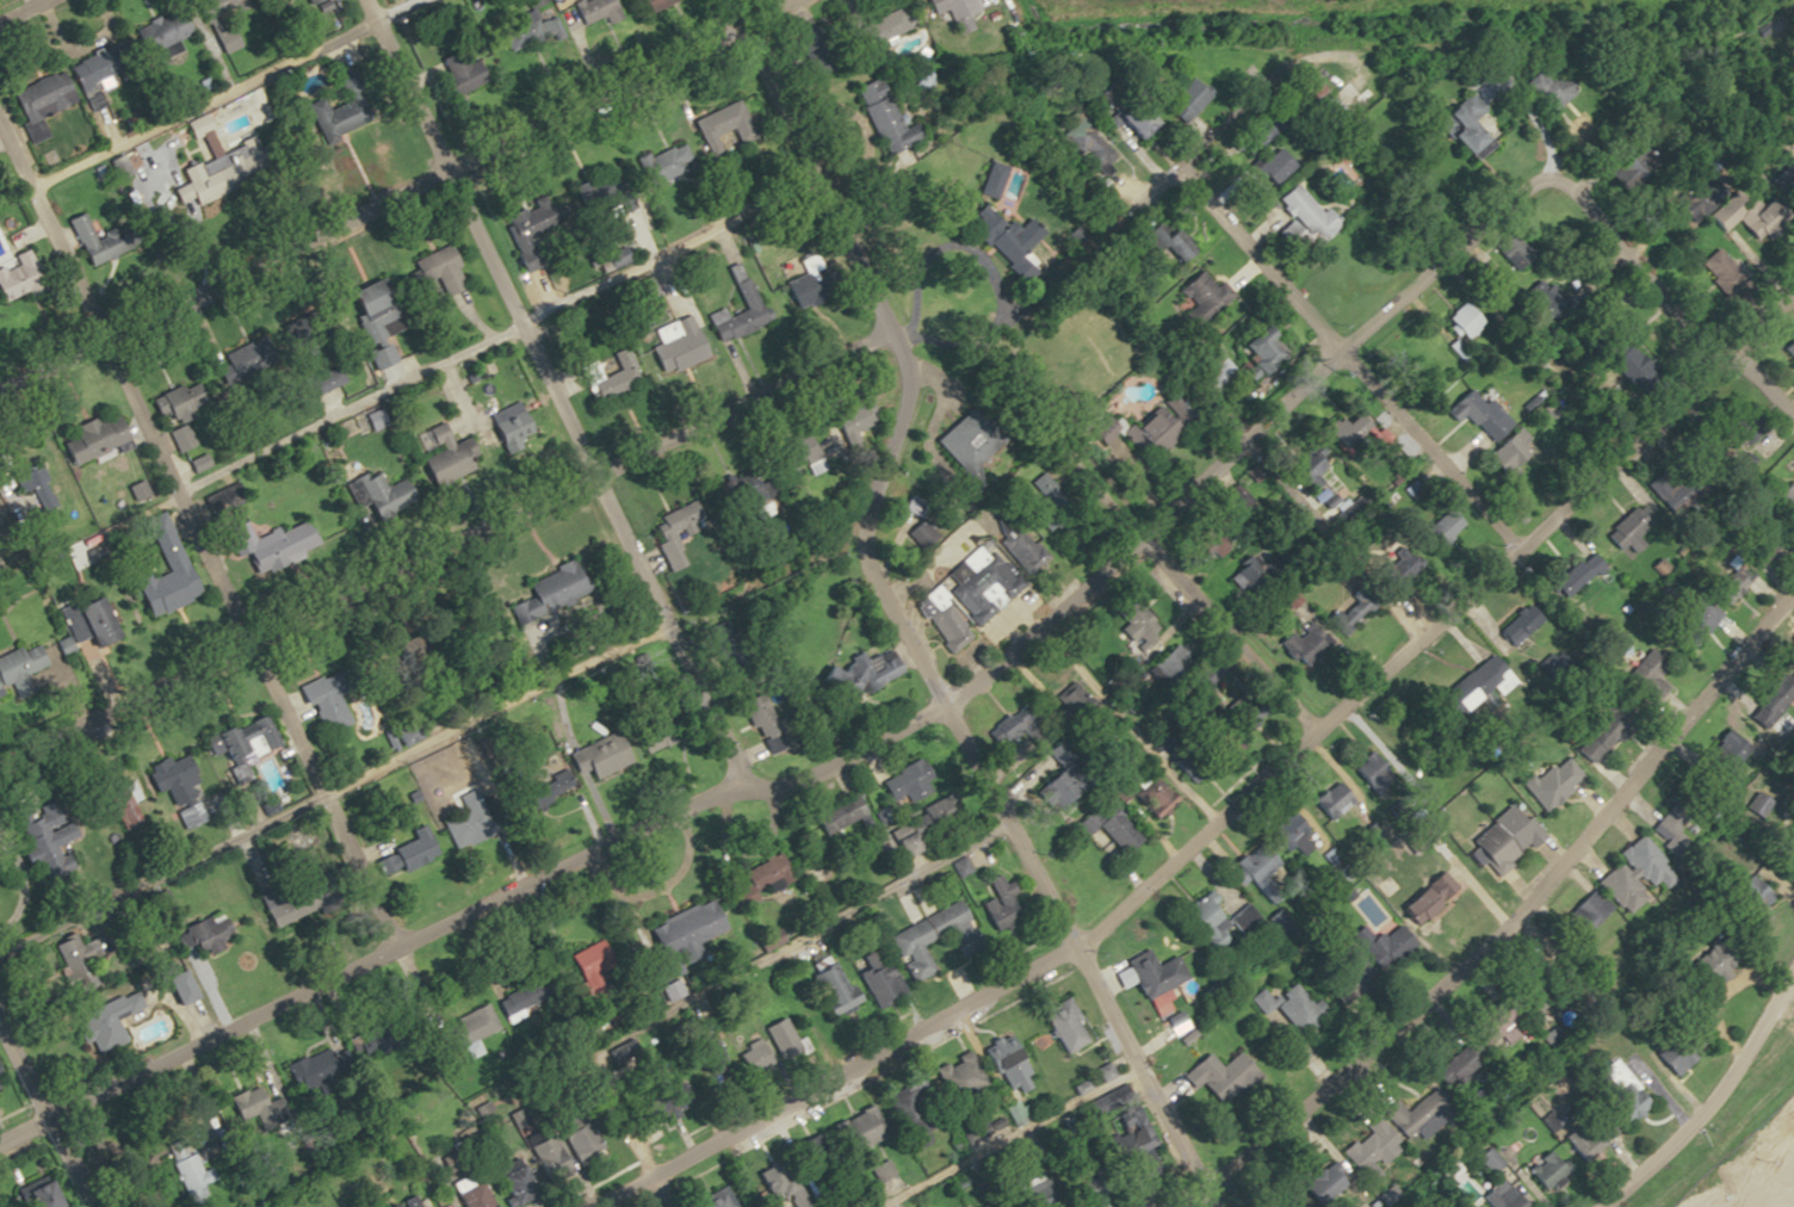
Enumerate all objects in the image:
building: (303, 0)
building: (651, 4)
building: (939, 4)
road: (19, 8)
building: (592, 10)
building: (208, 26)
building: (879, 27)
building: (156, 31)
building: (525, 31)
building: (87, 69)
building: (454, 72)
building: (1536, 88)
building: (1310, 91)
road: (219, 93)
building: (1180, 97)
building: (1354, 97)
building: (36, 100)
building: (879, 114)
building: (1122, 118)
building: (717, 120)
building: (196, 126)
building: (1448, 128)
building: (1249, 136)
building: (1081, 142)
building: (1268, 165)
building: (660, 166)
building: (199, 172)
road: (1145, 187)
road: (398, 190)
building: (611, 194)
building: (1300, 212)
building: (1762, 221)
building: (979, 222)
building: (79, 236)
building: (1162, 239)
building: (526, 241)
building: (1507, 252)
building: (435, 270)
building: (16, 286)
building: (800, 286)
building: (644, 290)
building: (365, 295)
building: (1200, 296)
building: (1540, 296)
building: (735, 314)
building: (1458, 322)
road: (1695, 328)
road: (493, 338)
building: (678, 342)
building: (1251, 349)
building: (1790, 352)
road: (1337, 357)
building: (607, 377)
building: (1211, 378)
building: (321, 380)
road: (550, 392)
building: (1473, 413)
building: (172, 417)
building: (508, 426)
building: (1147, 432)
building: (89, 439)
building: (799, 452)
building: (1504, 453)
building: (1295, 471)
building: (134, 490)
building: (1679, 490)
road: (1179, 491)
building: (1045, 493)
building: (1787, 496)
building: (1439, 527)
building: (1628, 532)
building: (664, 538)
road: (190, 539)
road: (443, 541)
building: (160, 543)
building: (273, 546)
building: (1016, 547)
building: (1762, 549)
building: (55, 568)
building: (1575, 576)
building: (976, 584)
building: (1728, 586)
road: (1180, 596)
building: (1344, 613)
road: (890, 618)
building: (88, 623)
building: (1696, 623)
building: (1516, 625)
building: (941, 627)
building: (1298, 644)
building: (18, 666)
building: (861, 671)
building: (1648, 675)
building: (1476, 686)
building: (1770, 699)
building: (321, 704)
building: (756, 714)
building: (1606, 729)
building: (655, 735)
building: (240, 738)
building: (1220, 742)
building: (1721, 755)
building: (598, 760)
building: (1189, 769)
building: (1366, 769)
building: (168, 780)
building: (1552, 781)
building: (905, 782)
building: (543, 788)
road: (335, 791)
building: (1050, 791)
road: (1232, 799)
building: (1329, 799)
building: (119, 807)
building: (841, 812)
building: (465, 823)
building: (41, 825)
building: (1676, 825)
building: (1112, 829)
building: (1285, 835)
building: (1505, 837)
building: (903, 843)
building: (1786, 846)
building: (412, 849)
building: (1249, 867)
building: (1632, 874)
building: (755, 880)
building: (1427, 897)
building: (1744, 897)
building: (995, 905)
road: (1496, 914)
building: (1583, 915)
building: (1217, 921)
building: (686, 930)
building: (202, 934)
building: (924, 937)
road: (367, 959)
building: (1345, 962)
building: (1707, 962)
building: (1151, 973)
road: (719, 979)
building: (168, 980)
building: (876, 983)
road: (1792, 984)
building: (828, 988)
building: (519, 1002)
building: (1289, 1007)
building: (104, 1021)
building: (1175, 1022)
building: (1059, 1026)
building: (465, 1027)
building: (1495, 1028)
building: (1677, 1050)
building: (1461, 1060)
building: (1003, 1064)
building: (308, 1069)
building: (955, 1076)
building: (1221, 1076)
building: (1619, 1091)
building: (661, 1098)
building: (246, 1103)
road: (1712, 1103)
building: (905, 1108)
building: (1412, 1116)
road: (45, 1120)
building: (853, 1128)
road: (1001, 1133)
building: (1588, 1135)
building: (573, 1139)
road: (1719, 1141)
building: (1368, 1147)
building: (544, 1158)
building: (1487, 1159)
building: (181, 1163)
building: (1545, 1169)
building: (877, 1170)
building: (512, 1181)
building: (1322, 1184)
building: (1029, 1194)
building: (1499, 1195)
building: (469, 1196)
building: (712, 1199)
building: (1287, 1202)
building: (383, 1205)

